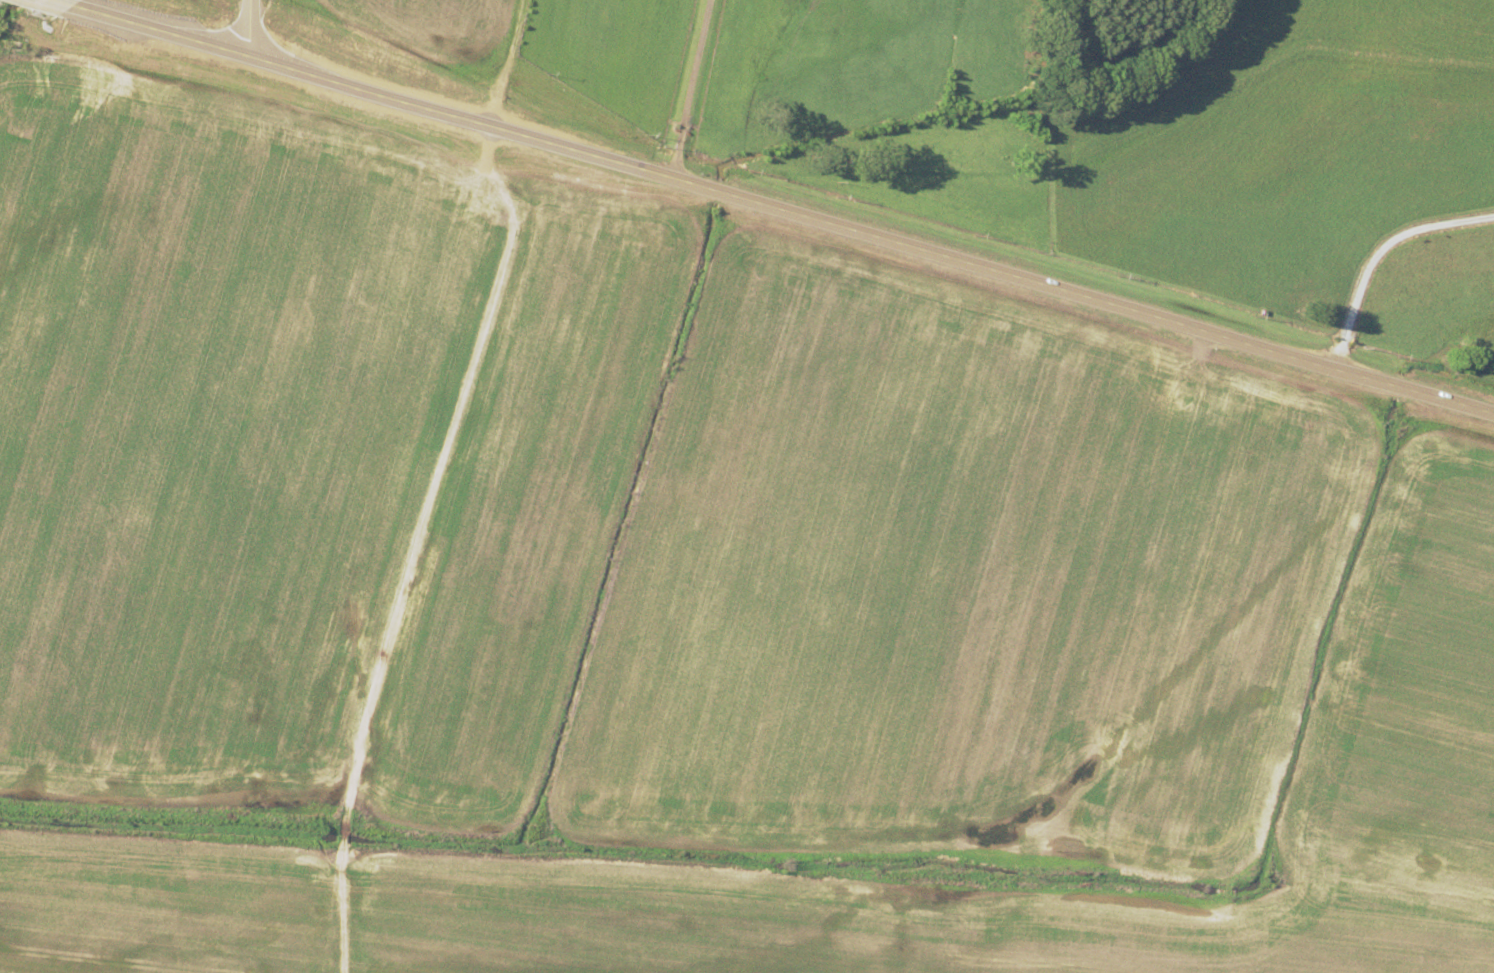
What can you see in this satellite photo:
road: (245, 24)
road: (781, 202)

